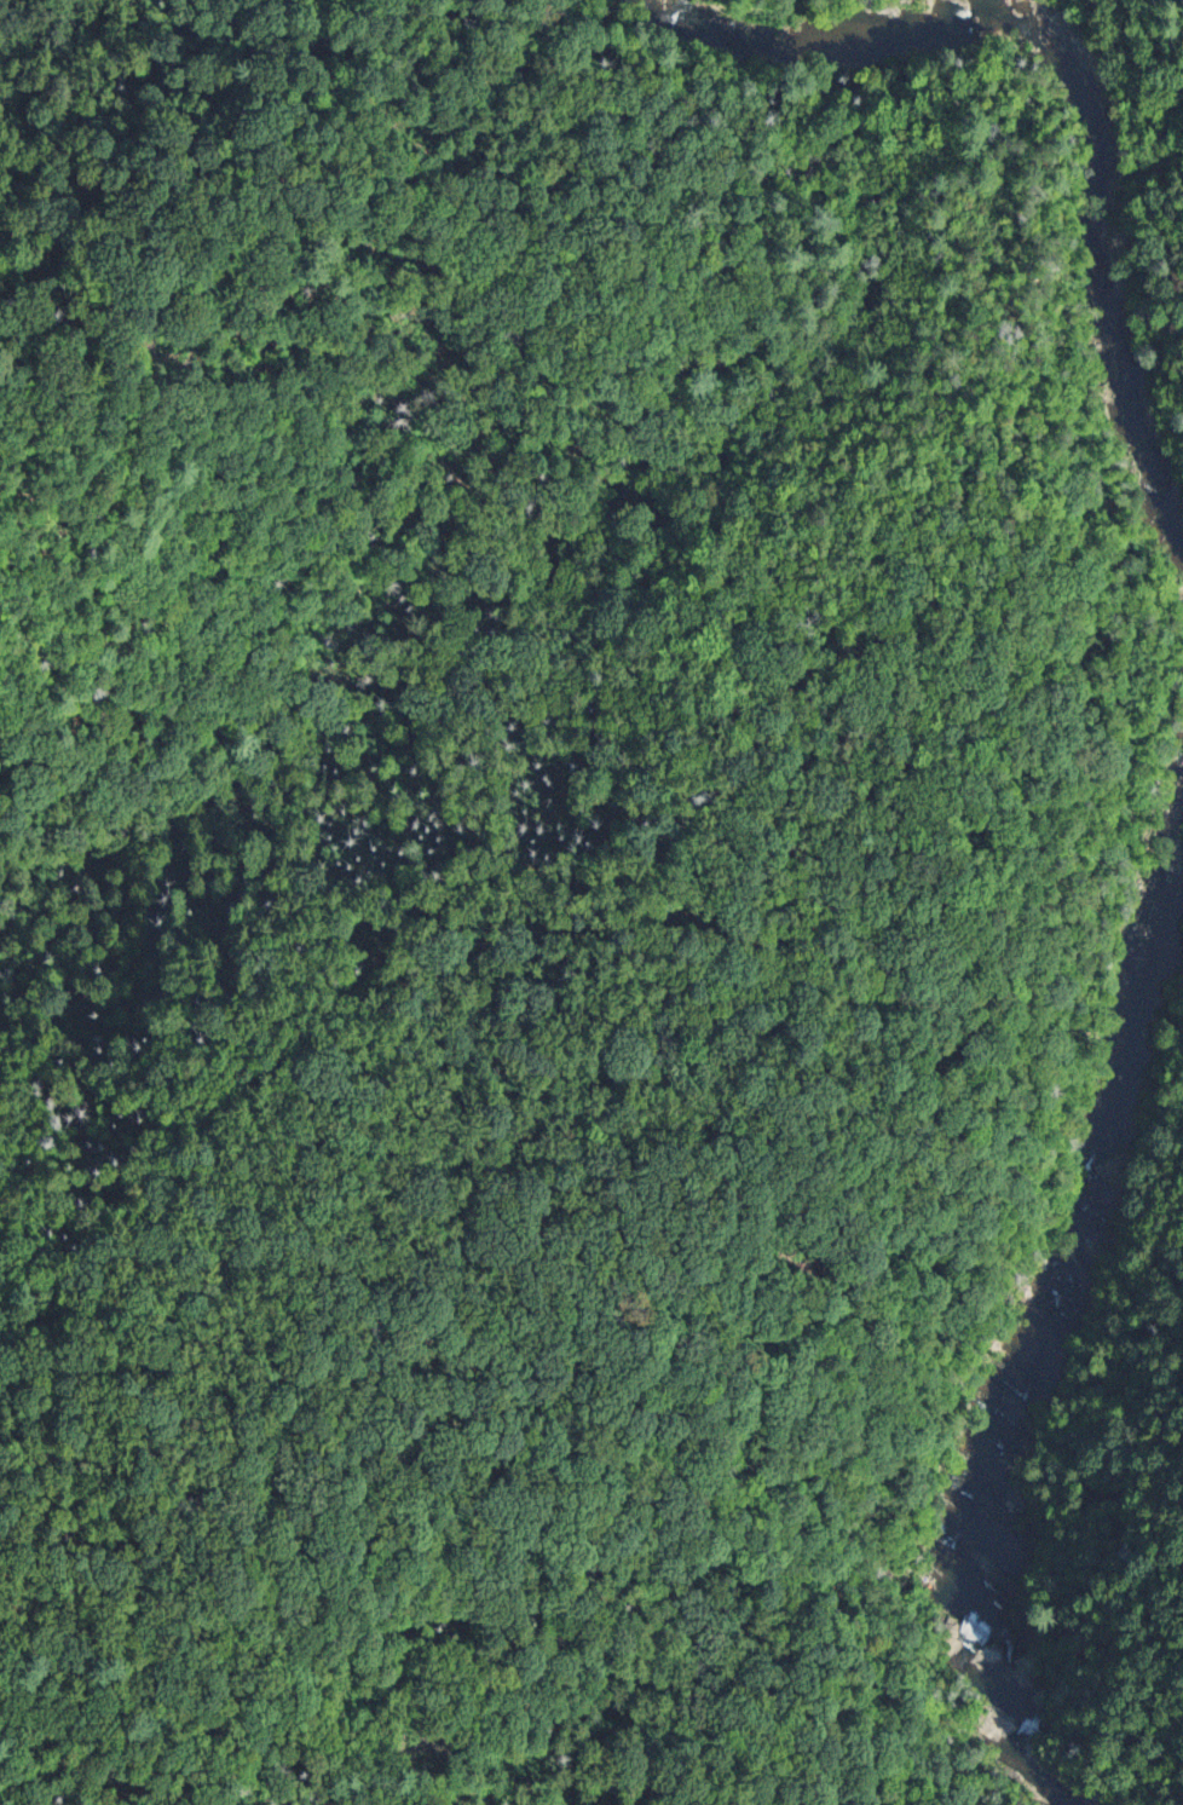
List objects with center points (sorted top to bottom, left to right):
river: (775, 29)
river: (1114, 179)
river: (1050, 1339)

